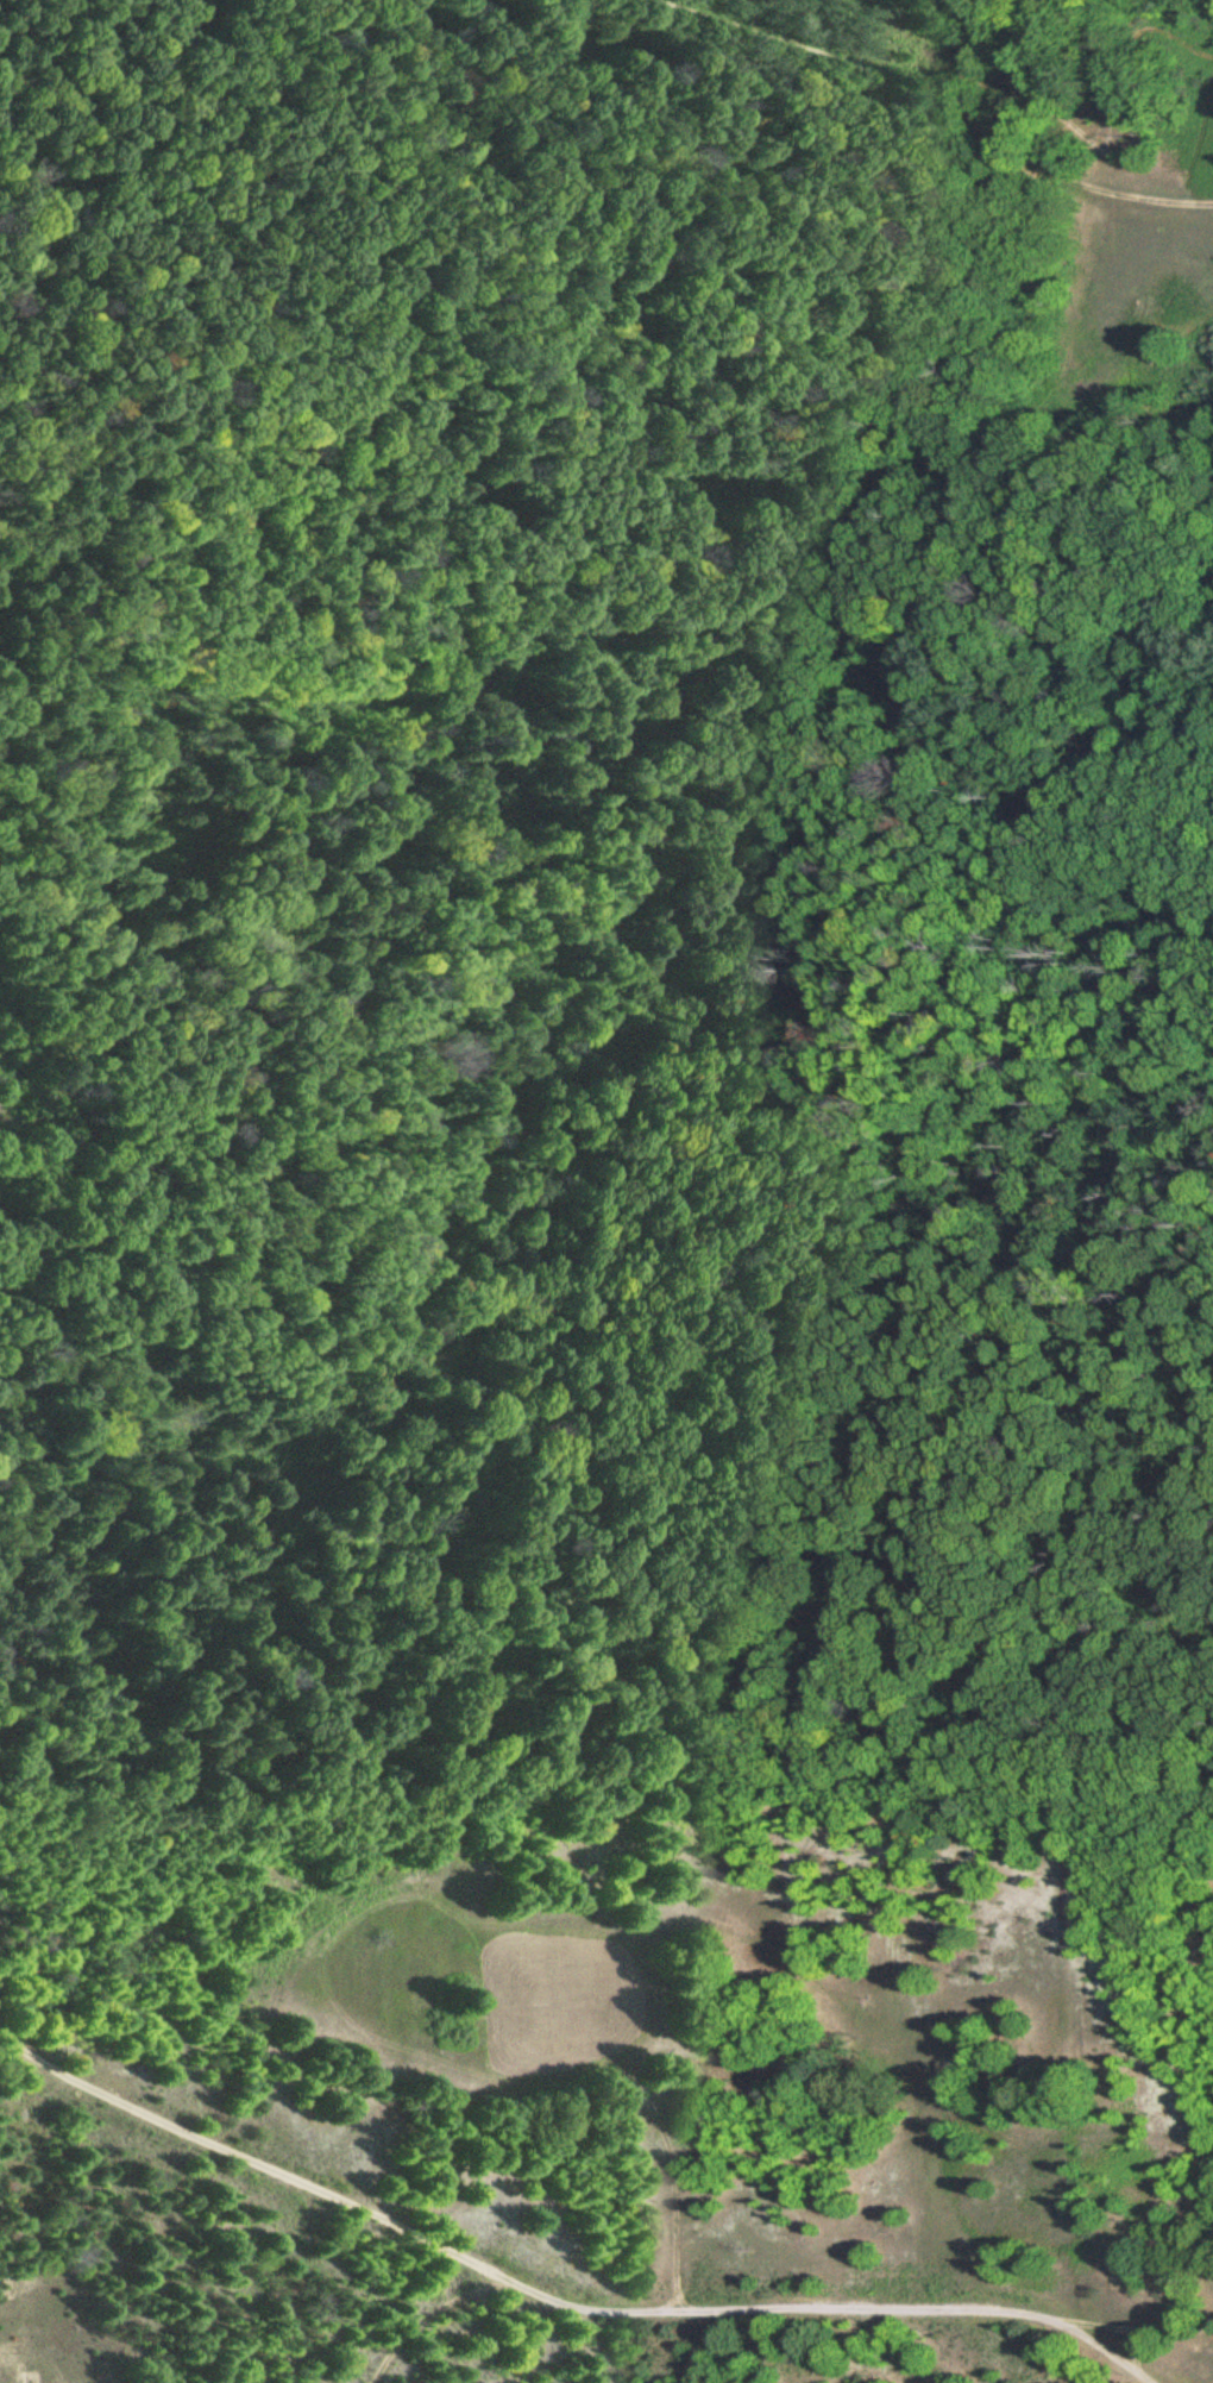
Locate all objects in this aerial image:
road: (561, 2299)

